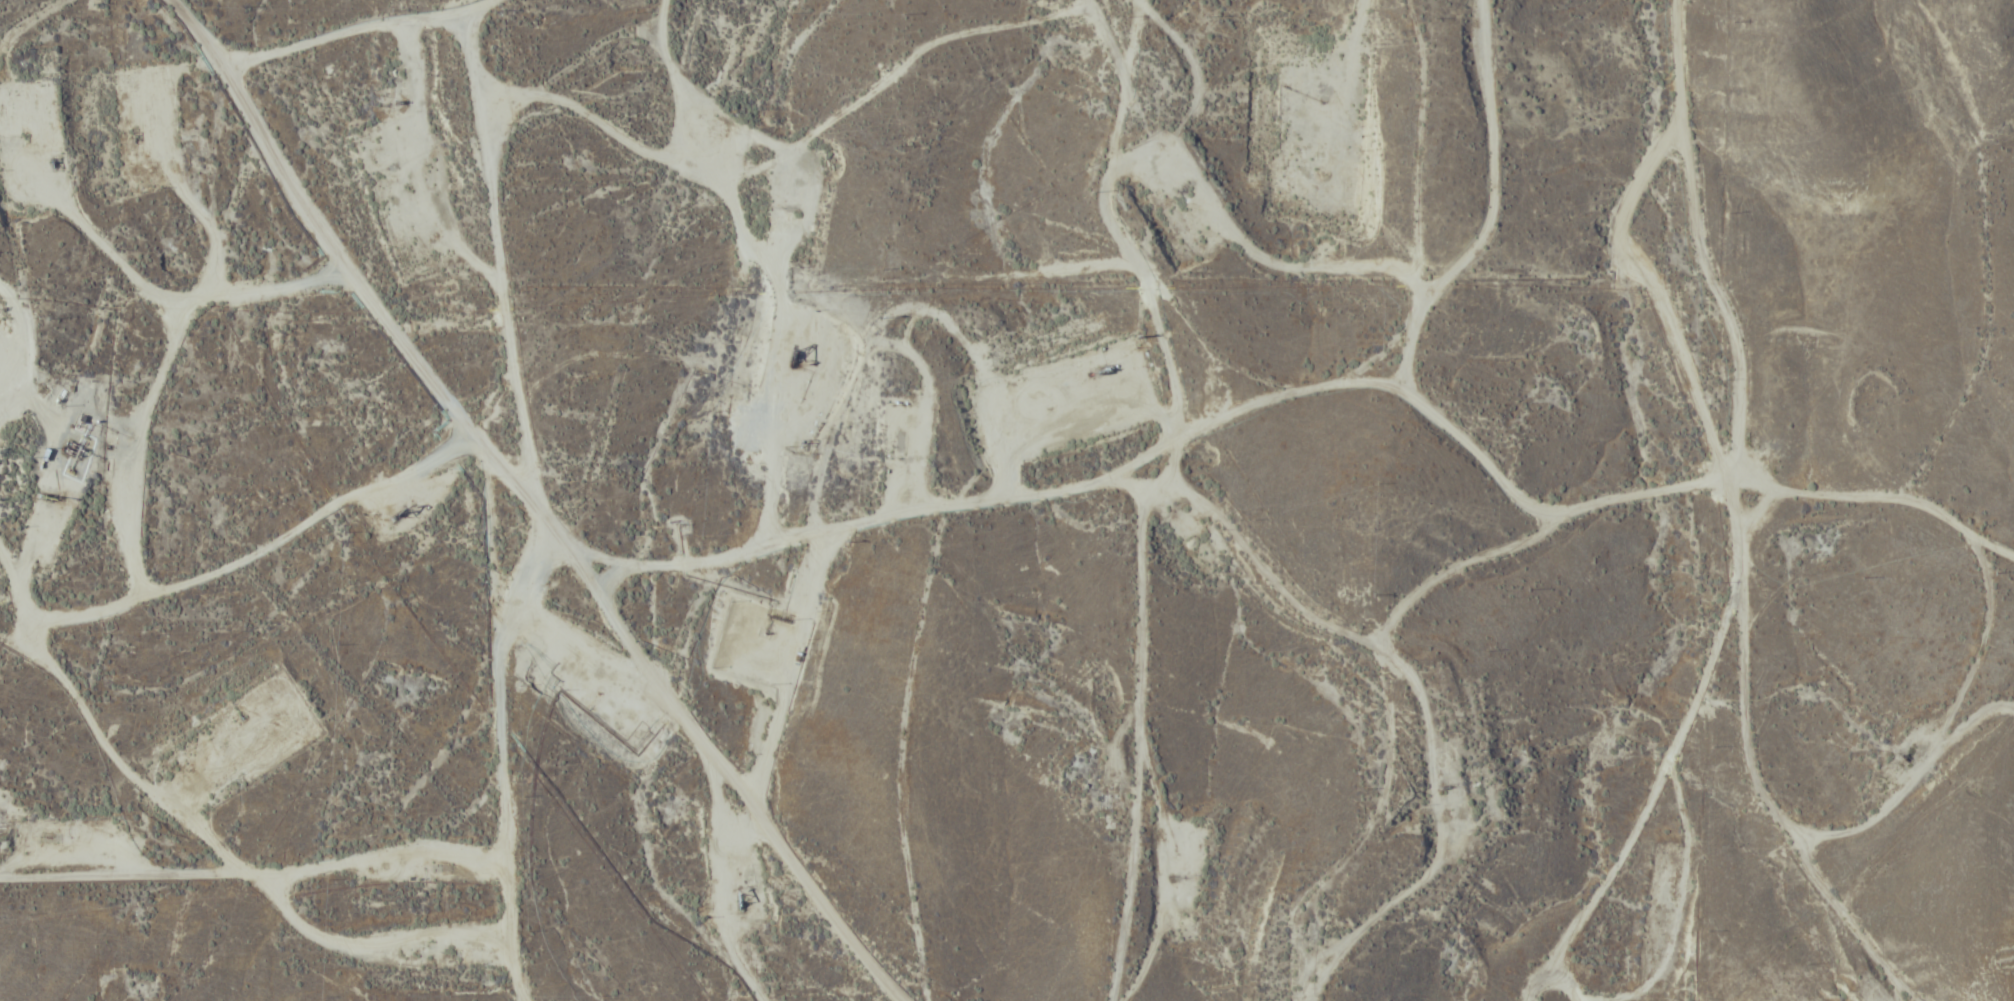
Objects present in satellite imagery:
road: (488, 505)

